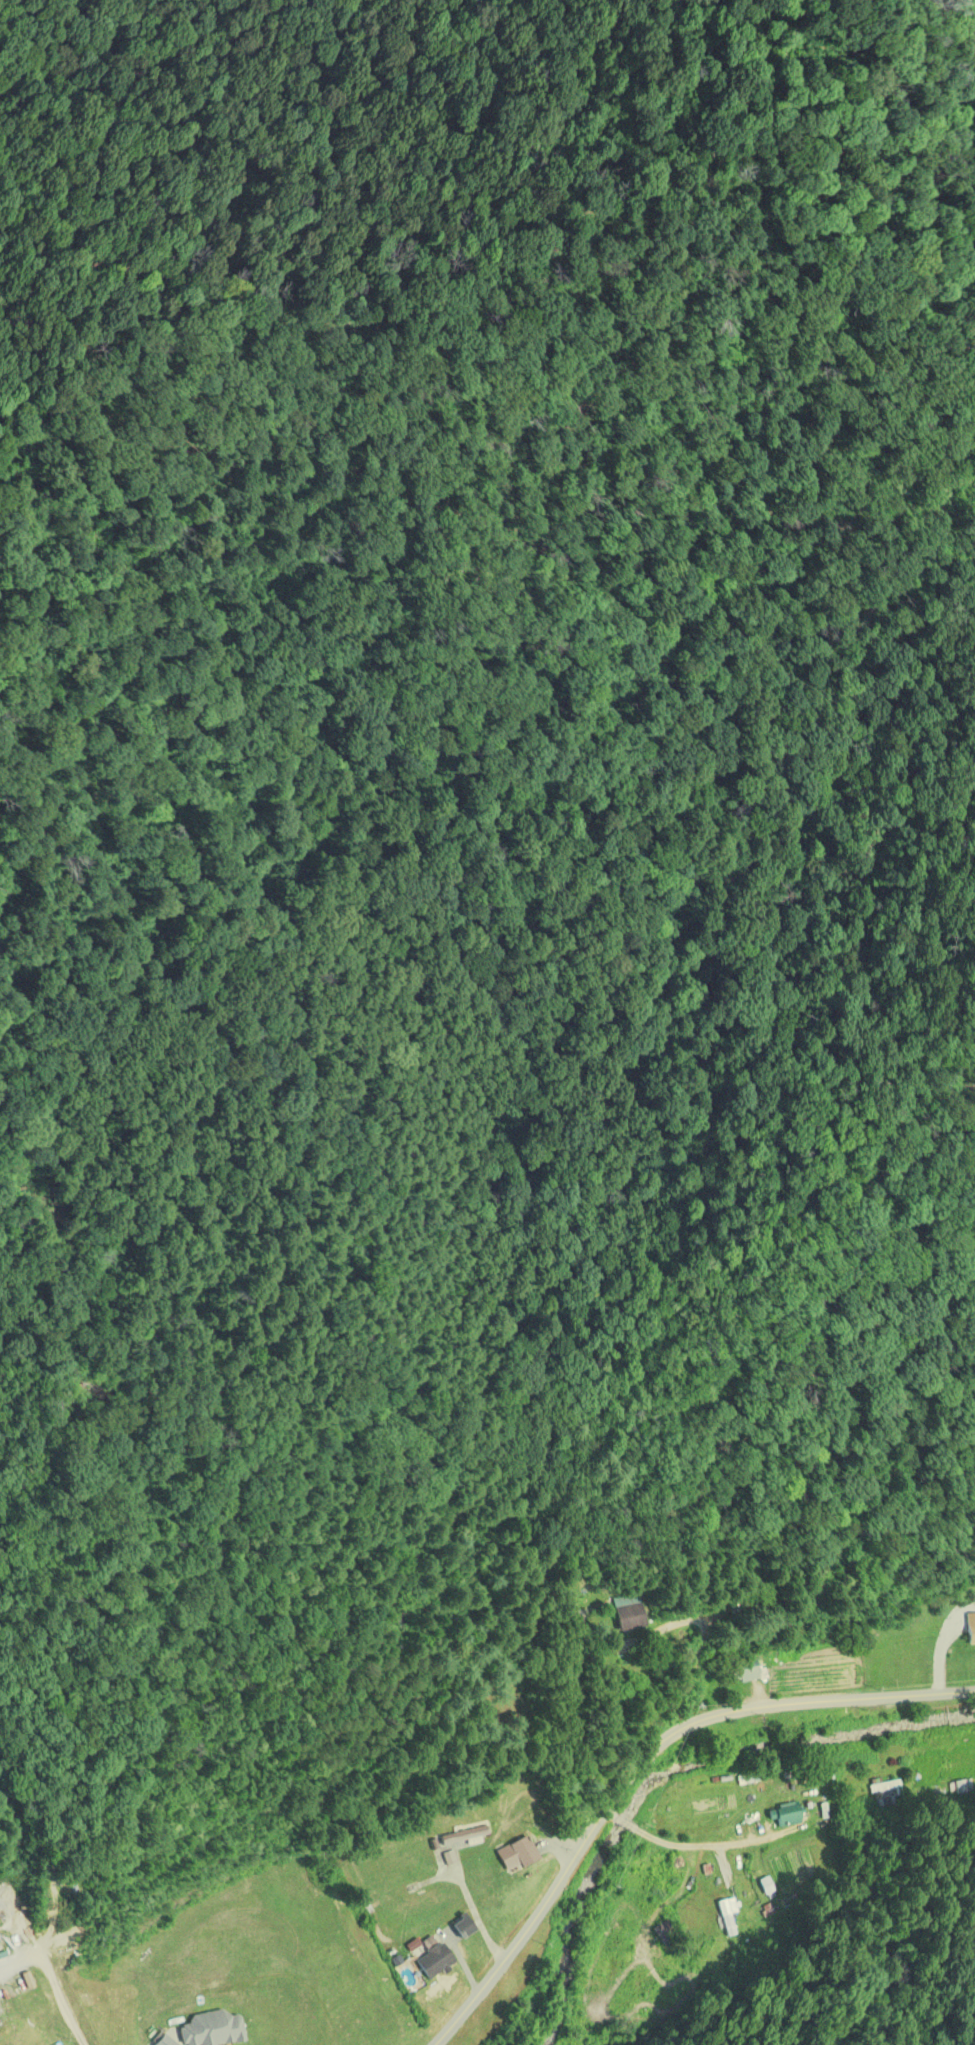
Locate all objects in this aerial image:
building: (631, 1613)
building: (971, 1630)
building: (751, 1671)
building: (839, 1718)
building: (749, 1733)
road: (641, 1759)
building: (791, 1819)
building: (465, 1836)
building: (518, 1855)
building: (465, 1928)
building: (435, 1960)

